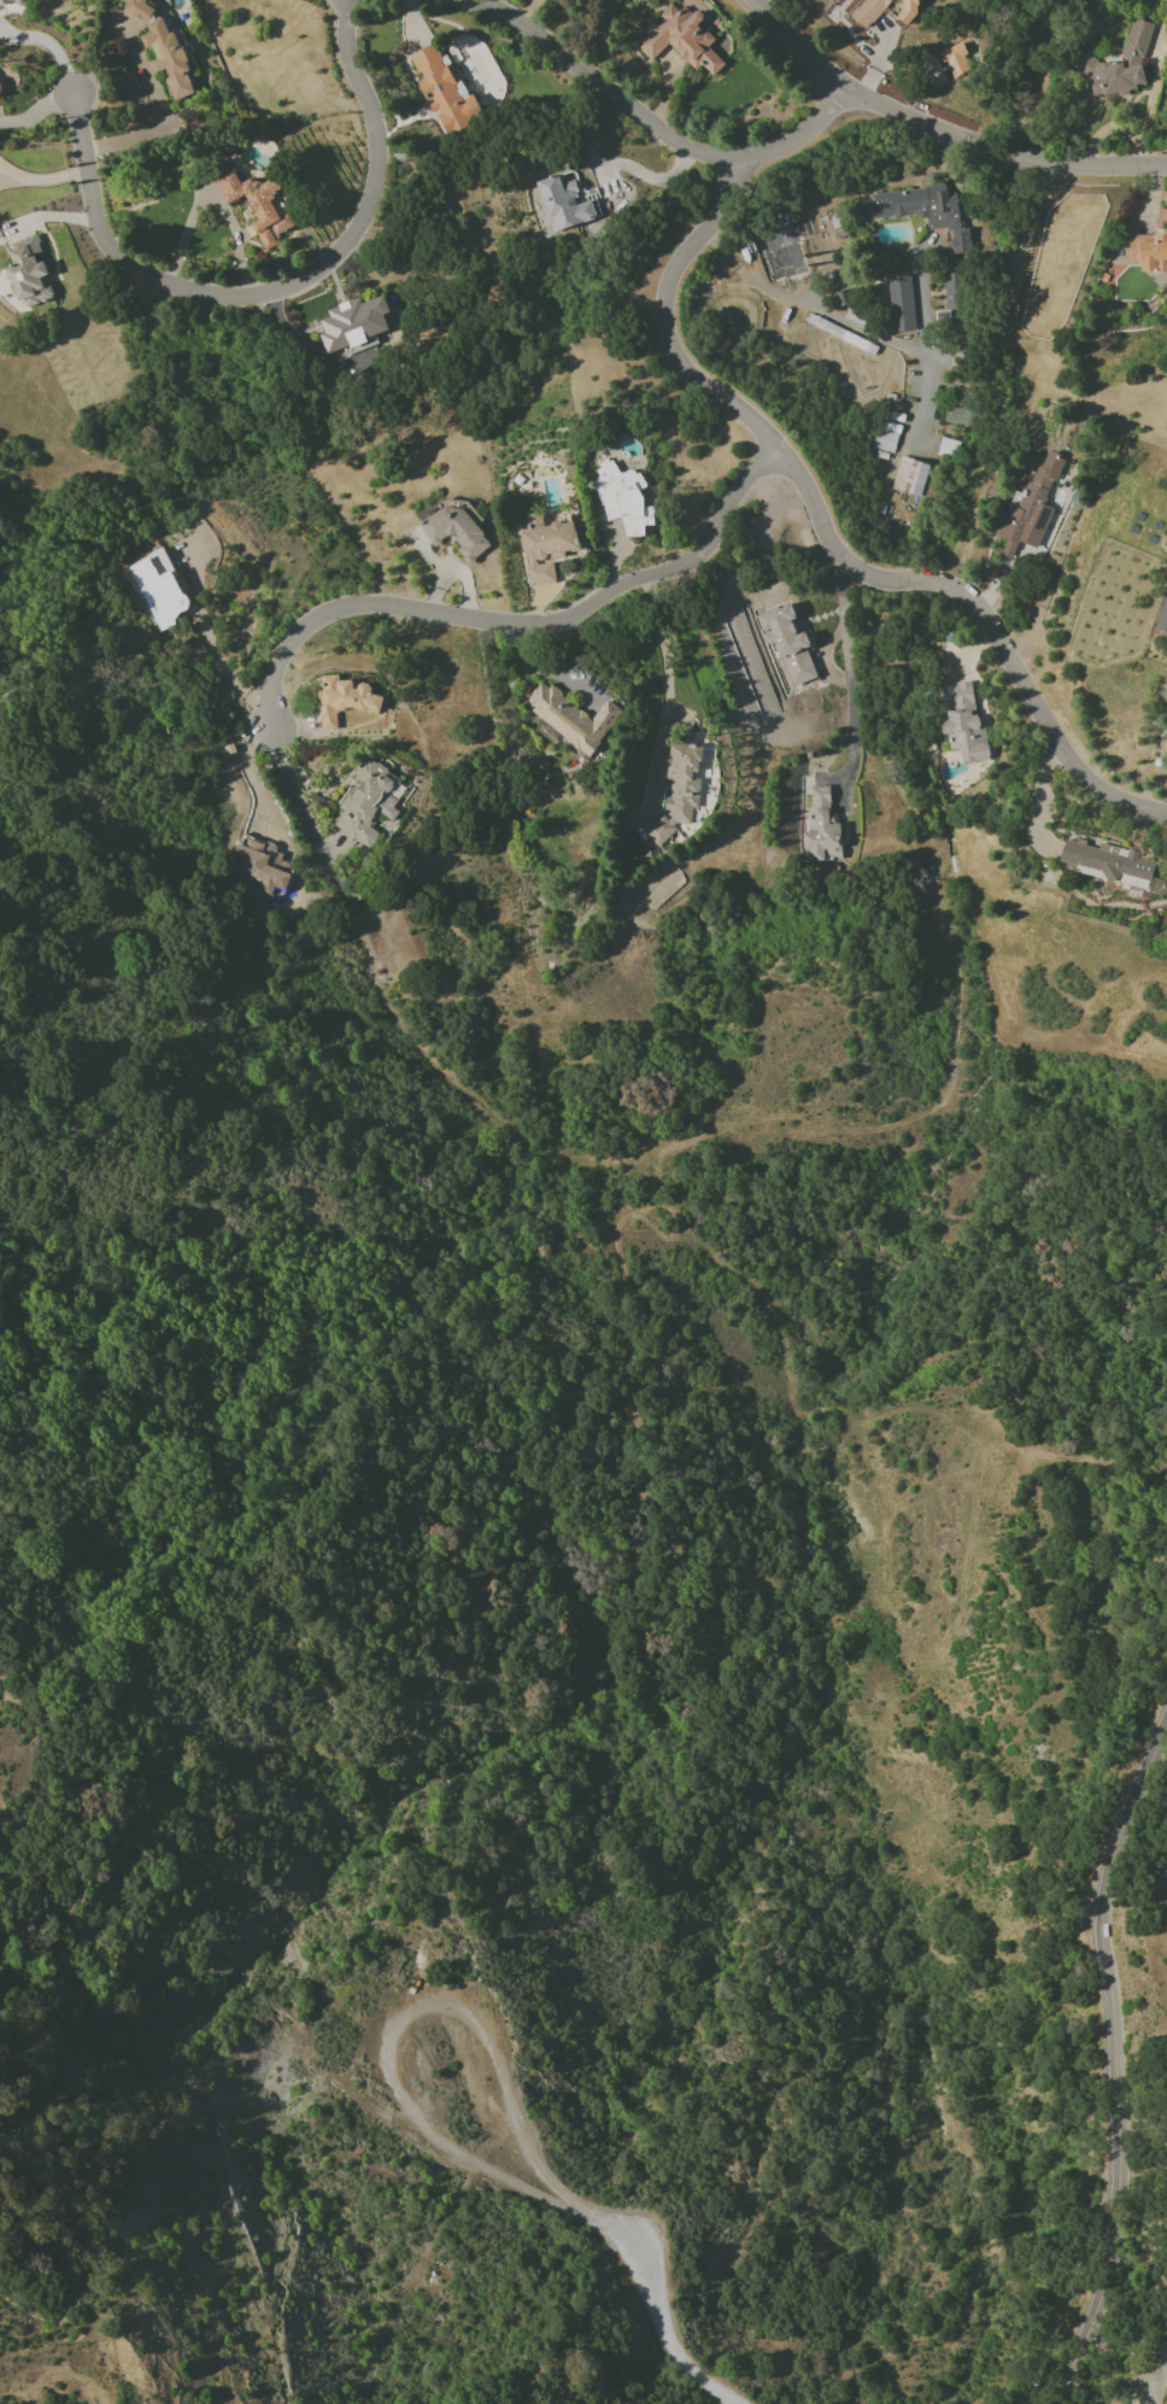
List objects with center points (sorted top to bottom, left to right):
building: (835, 0)
building: (868, 11)
building: (907, 11)
building: (680, 39)
road: (49, 45)
building: (164, 49)
building: (956, 60)
building: (1118, 66)
building: (445, 89)
road: (37, 109)
road: (653, 127)
road: (940, 129)
road: (151, 130)
road: (43, 179)
building: (564, 203)
building: (257, 205)
building: (922, 210)
building: (1149, 253)
building: (27, 273)
road: (277, 289)
building: (901, 304)
road: (919, 304)
building: (353, 323)
road: (930, 351)
road: (1011, 375)
road: (921, 393)
building: (956, 415)
building: (886, 435)
building: (910, 476)
building: (622, 498)
building: (1031, 505)
building: (450, 528)
road: (828, 542)
building: (546, 548)
building: (157, 589)
road: (516, 624)
building: (787, 642)
road: (212, 647)
road: (662, 666)
road: (849, 677)
building: (351, 692)
building: (569, 718)
building: (962, 723)
road: (248, 776)
building: (680, 792)
road: (1036, 801)
road: (301, 820)
building: (821, 827)
building: (1106, 860)
building: (263, 864)
crop: (53, 1760)
building: (1162, 1873)
road: (400, 2020)
road: (1113, 2060)
road: (653, 2309)
building: (1161, 2342)
crop: (8, 2386)

